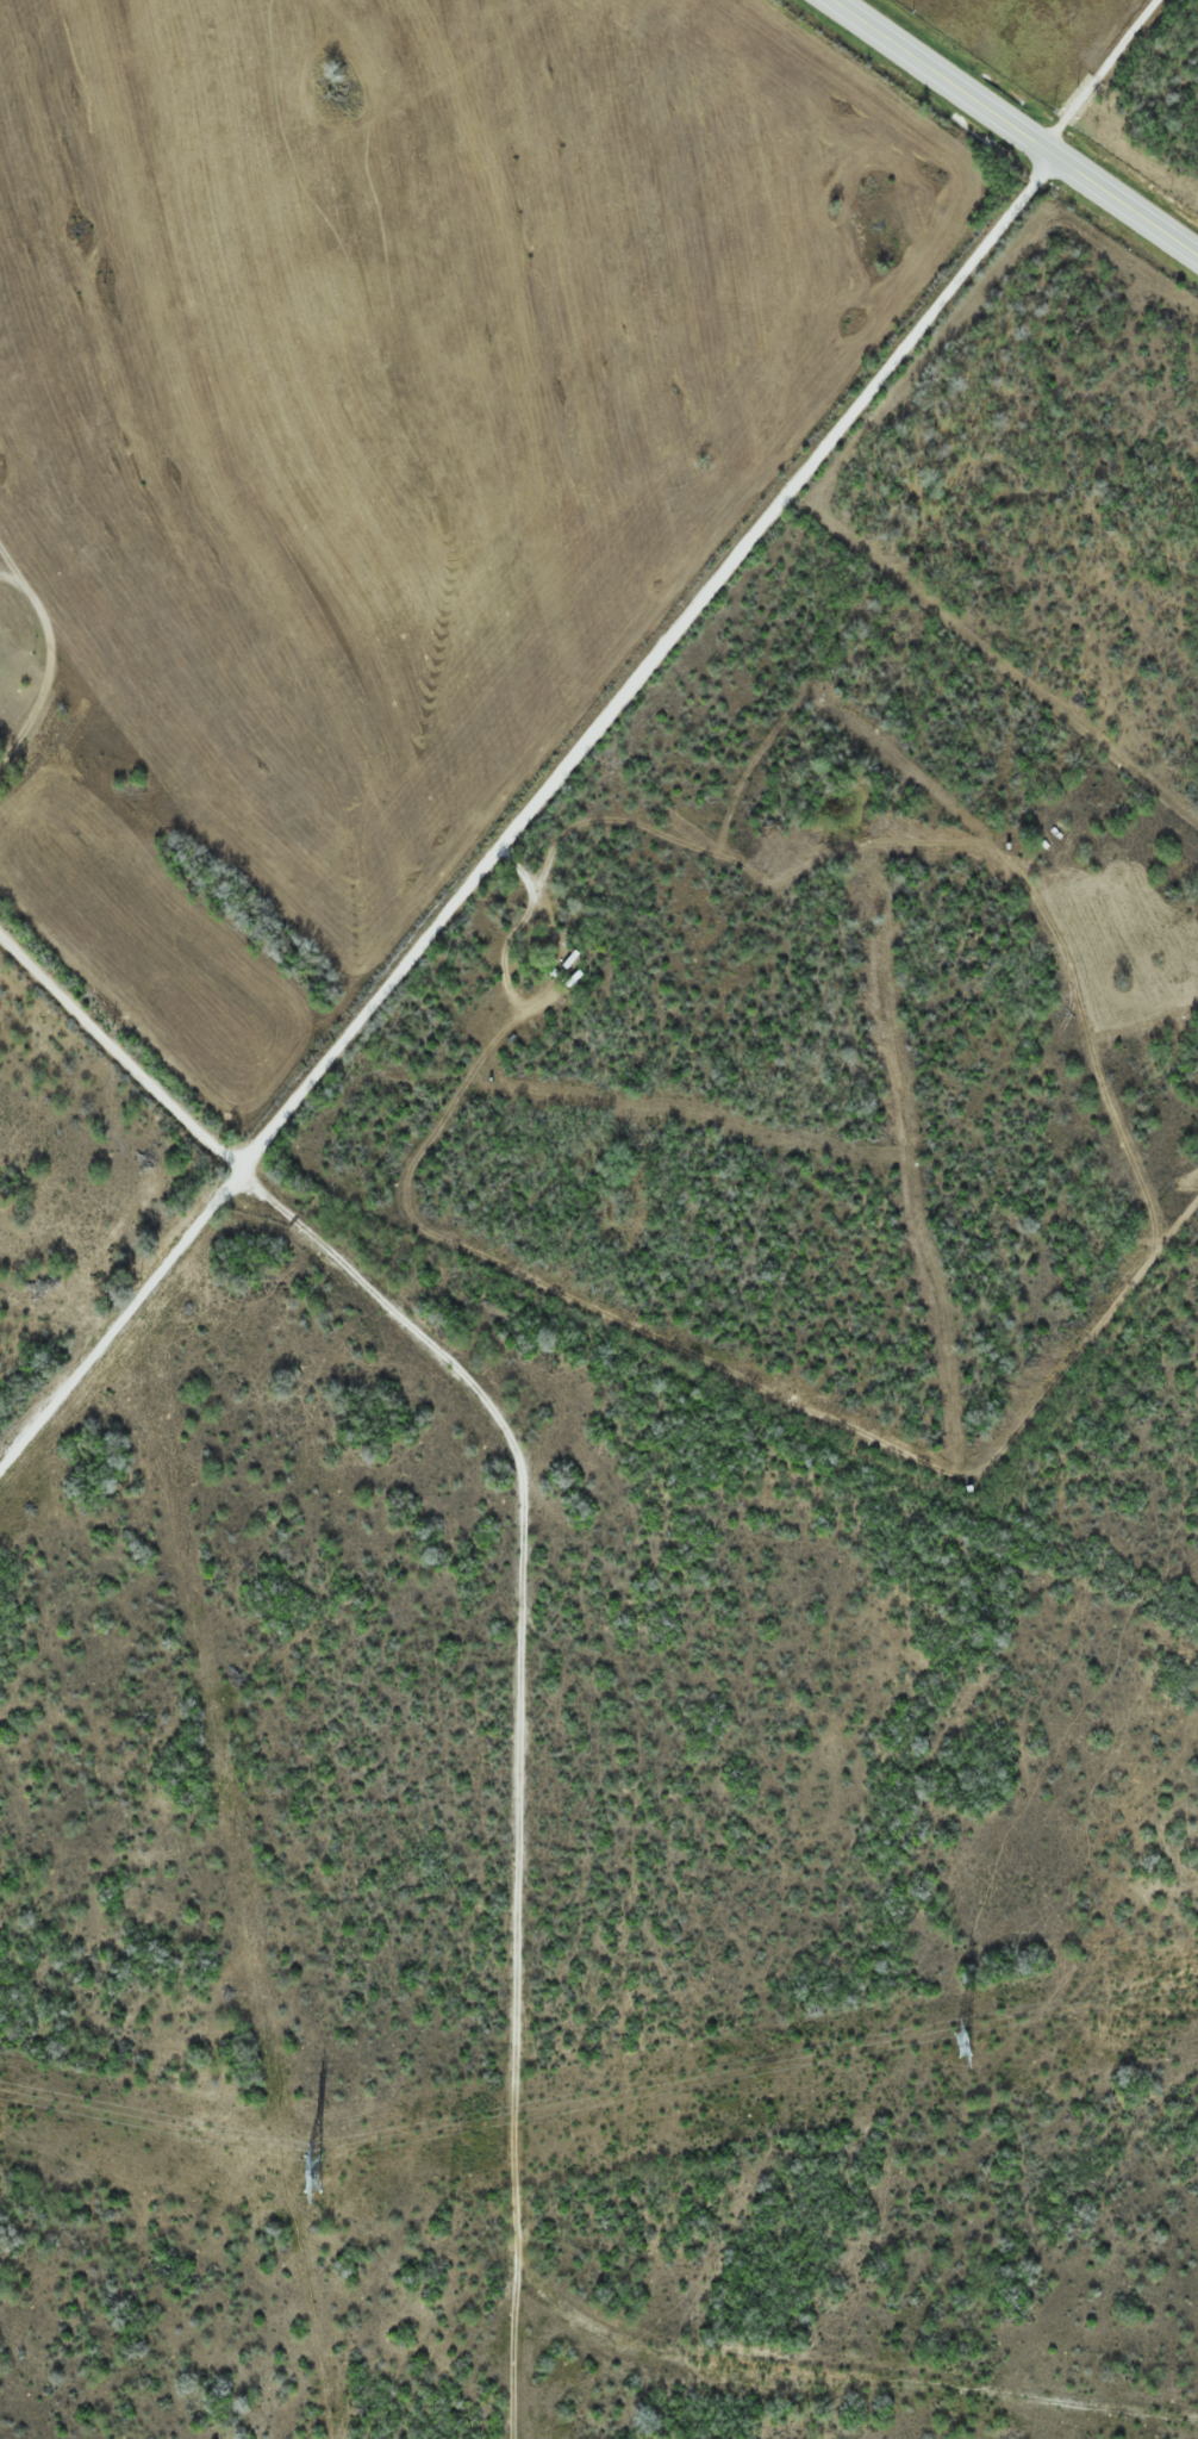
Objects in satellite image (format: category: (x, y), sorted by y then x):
road: (1015, 124)
road: (529, 815)
power tower: (962, 2045)
power tower: (314, 2178)
building: (313, 2182)

